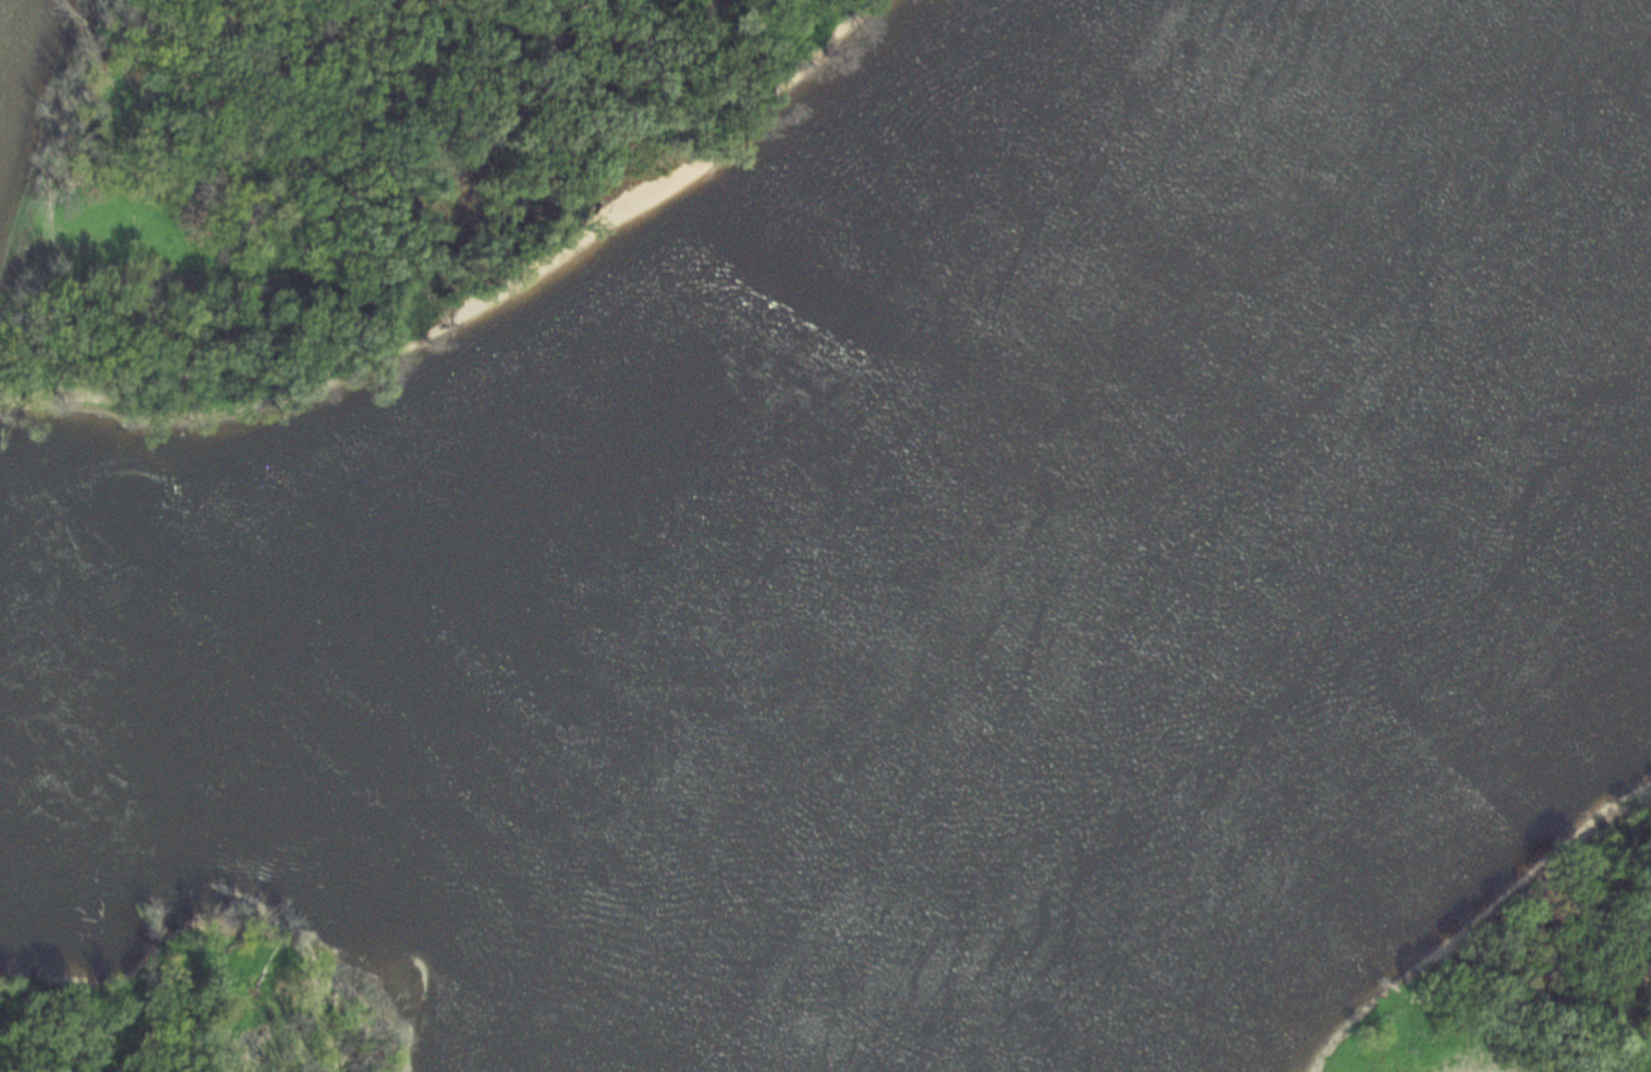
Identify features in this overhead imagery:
river: (1133, 504)

